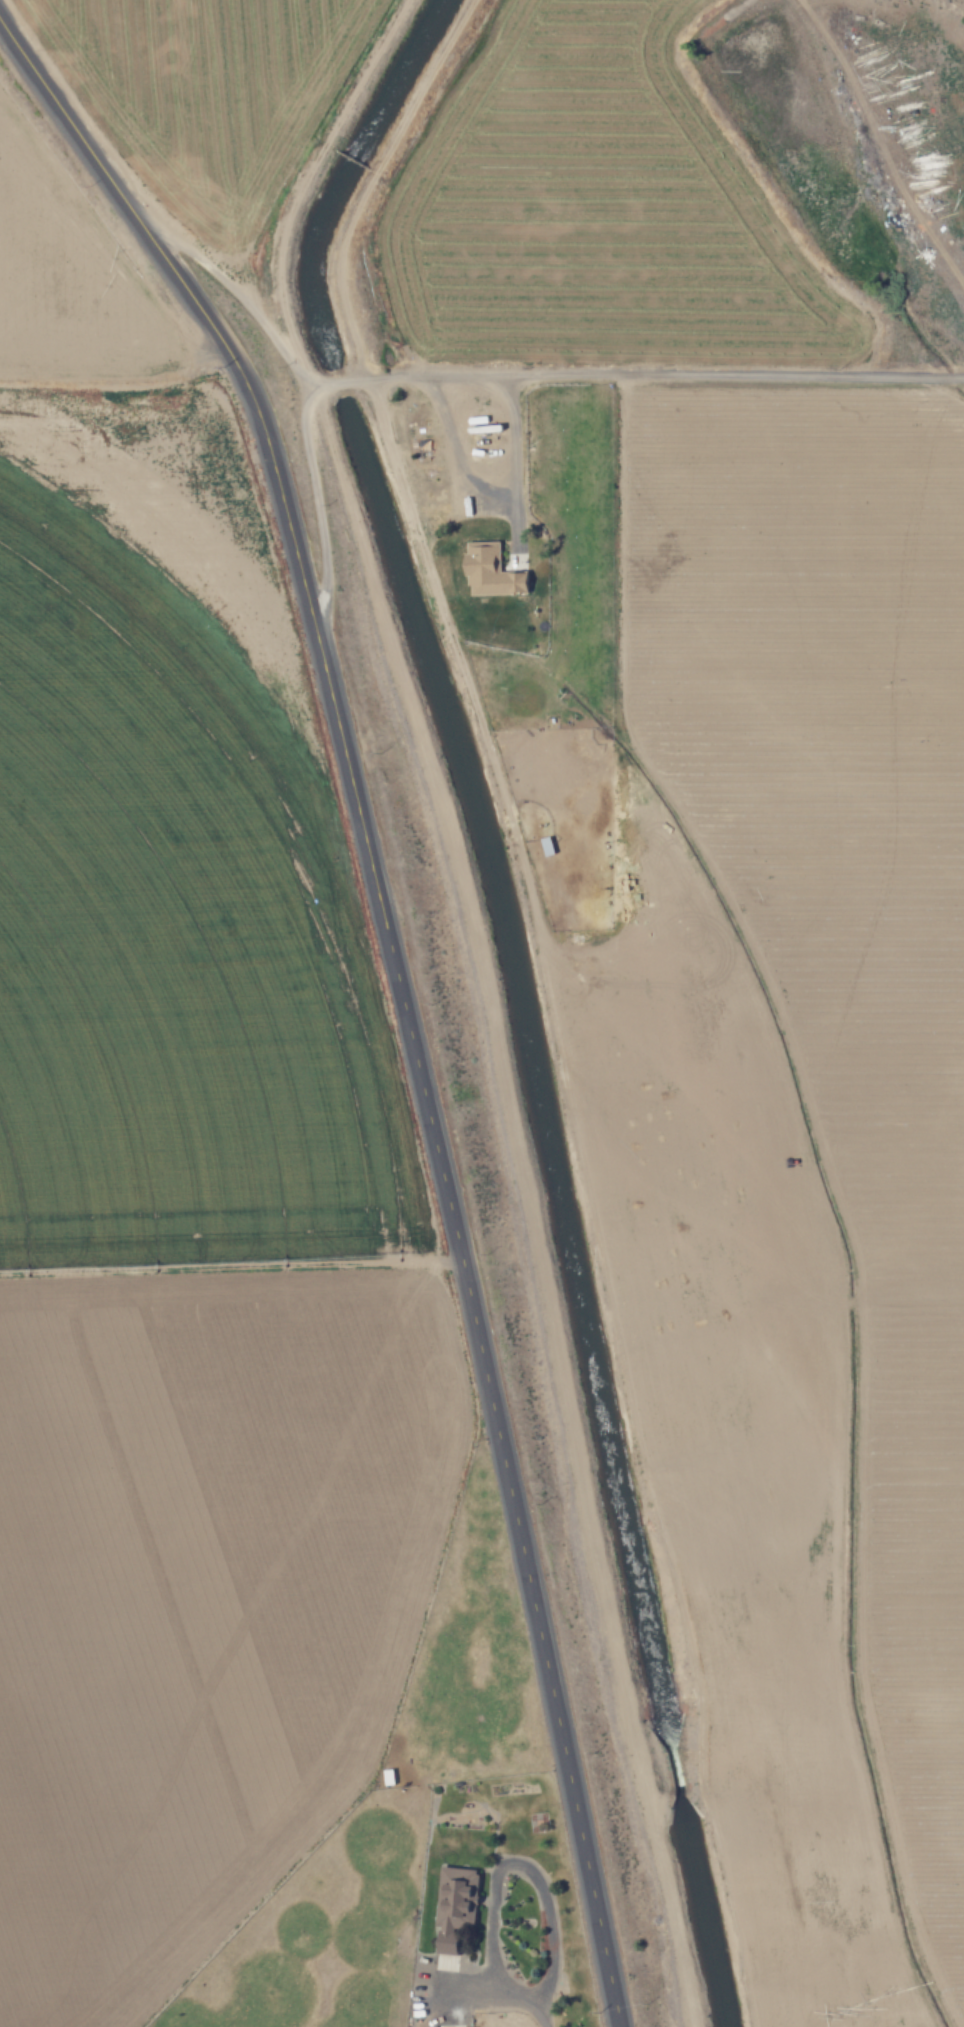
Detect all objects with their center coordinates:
road: (521, 382)
building: (487, 573)
crop: (722, 901)
road: (398, 986)
crop: (205, 1289)
building: (453, 1905)

